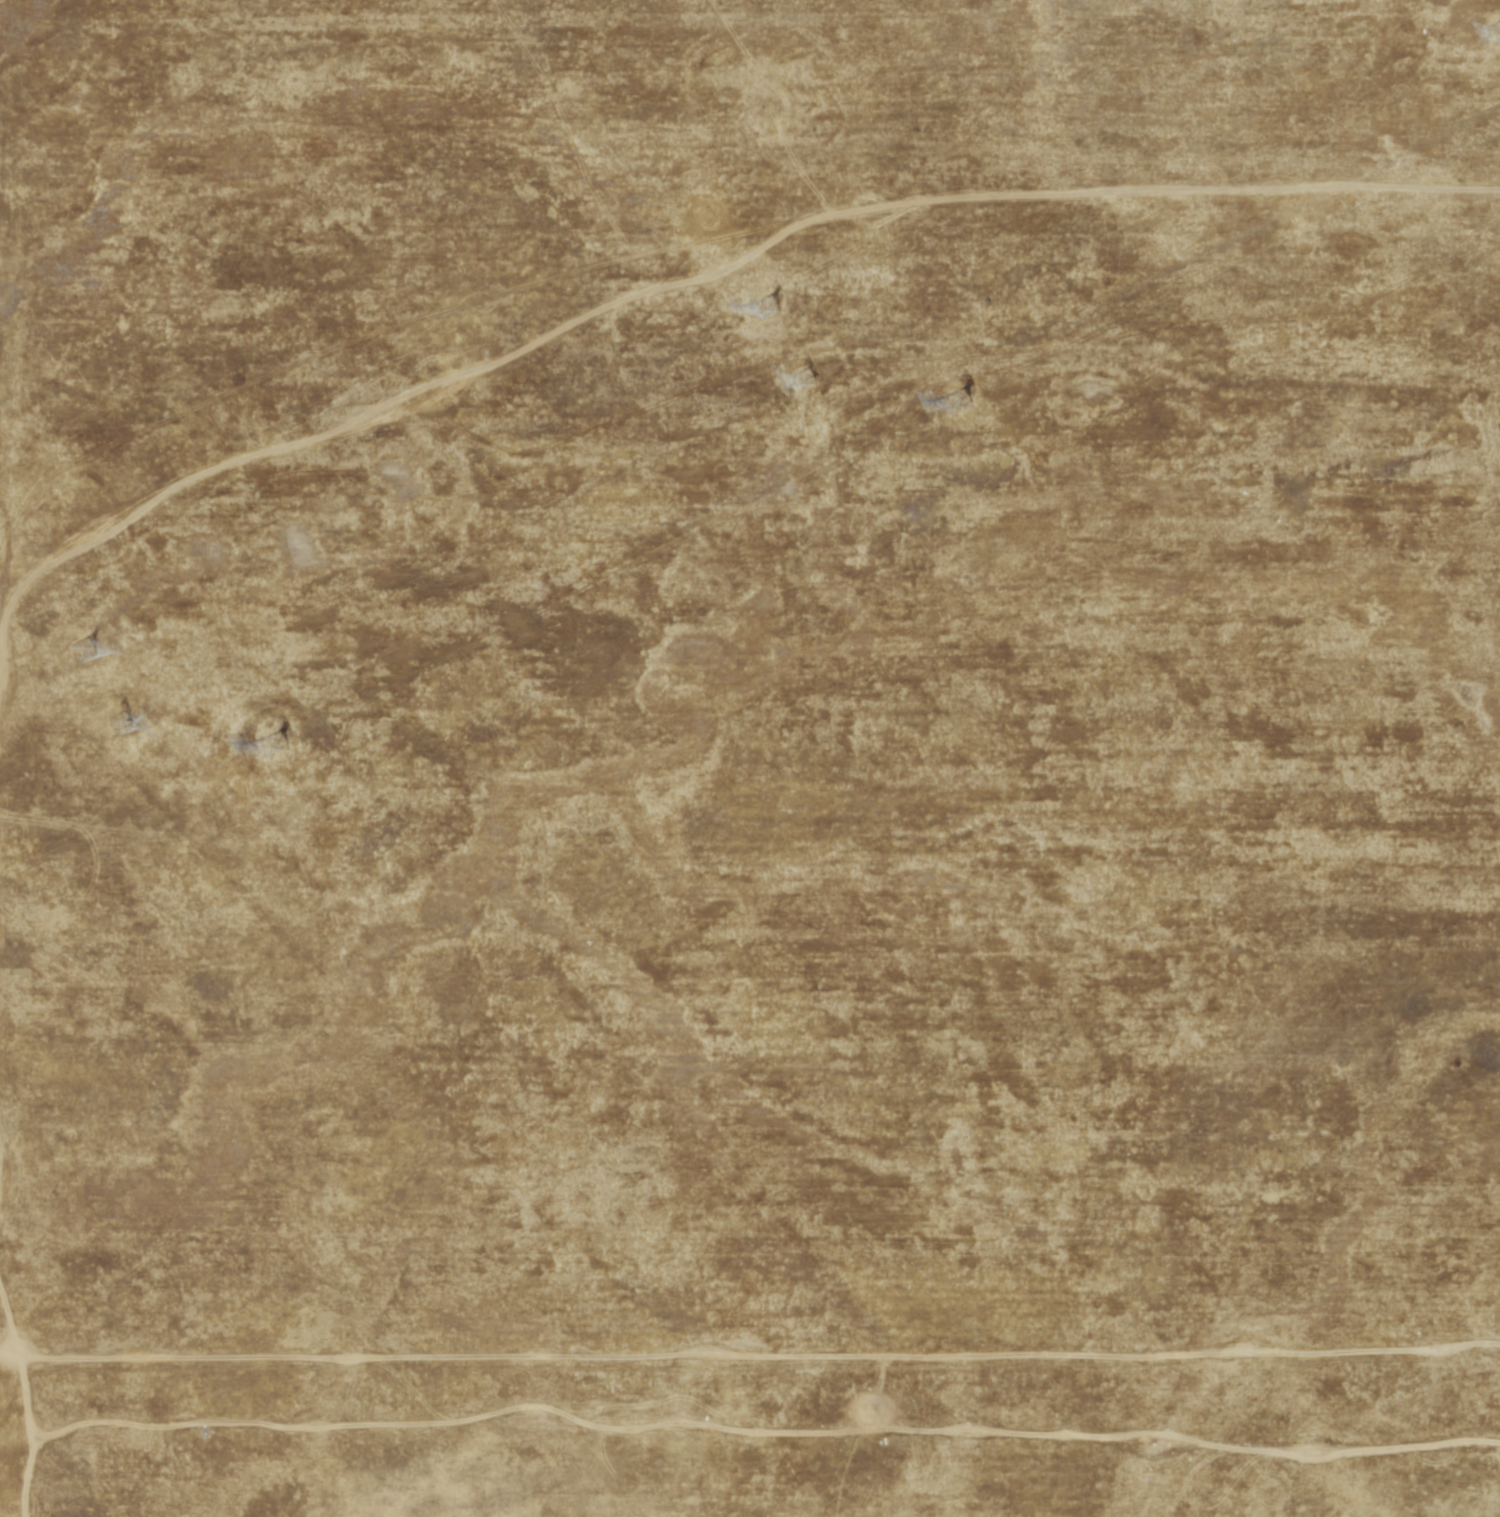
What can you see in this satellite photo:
power tower: (772, 309)
power tower: (806, 382)
power tower: (963, 403)
power tower: (86, 653)
power tower: (124, 727)
power tower: (278, 746)

